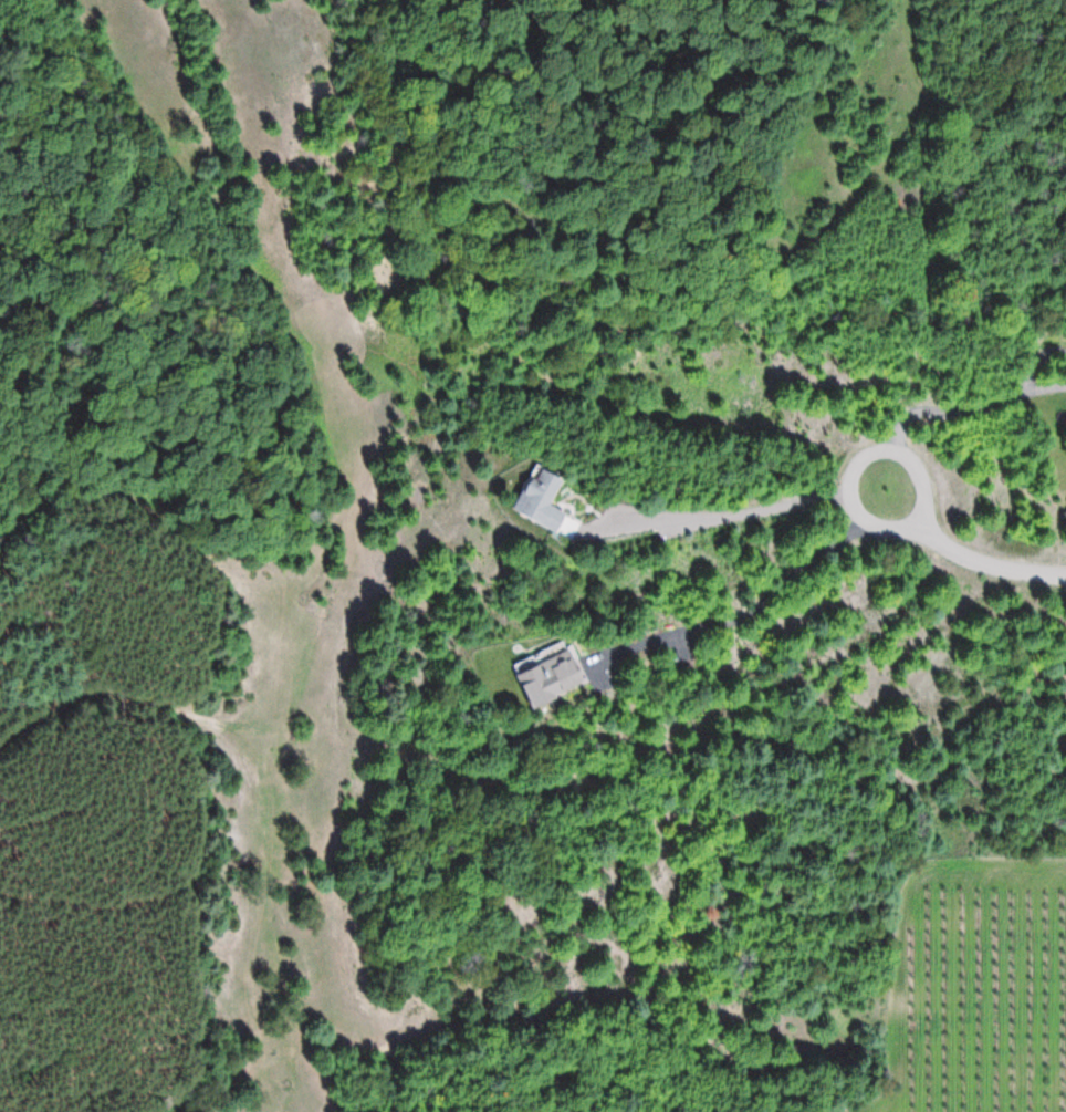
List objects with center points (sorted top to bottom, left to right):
road: (860, 463)
building: (541, 500)
road: (994, 567)
building: (551, 673)

